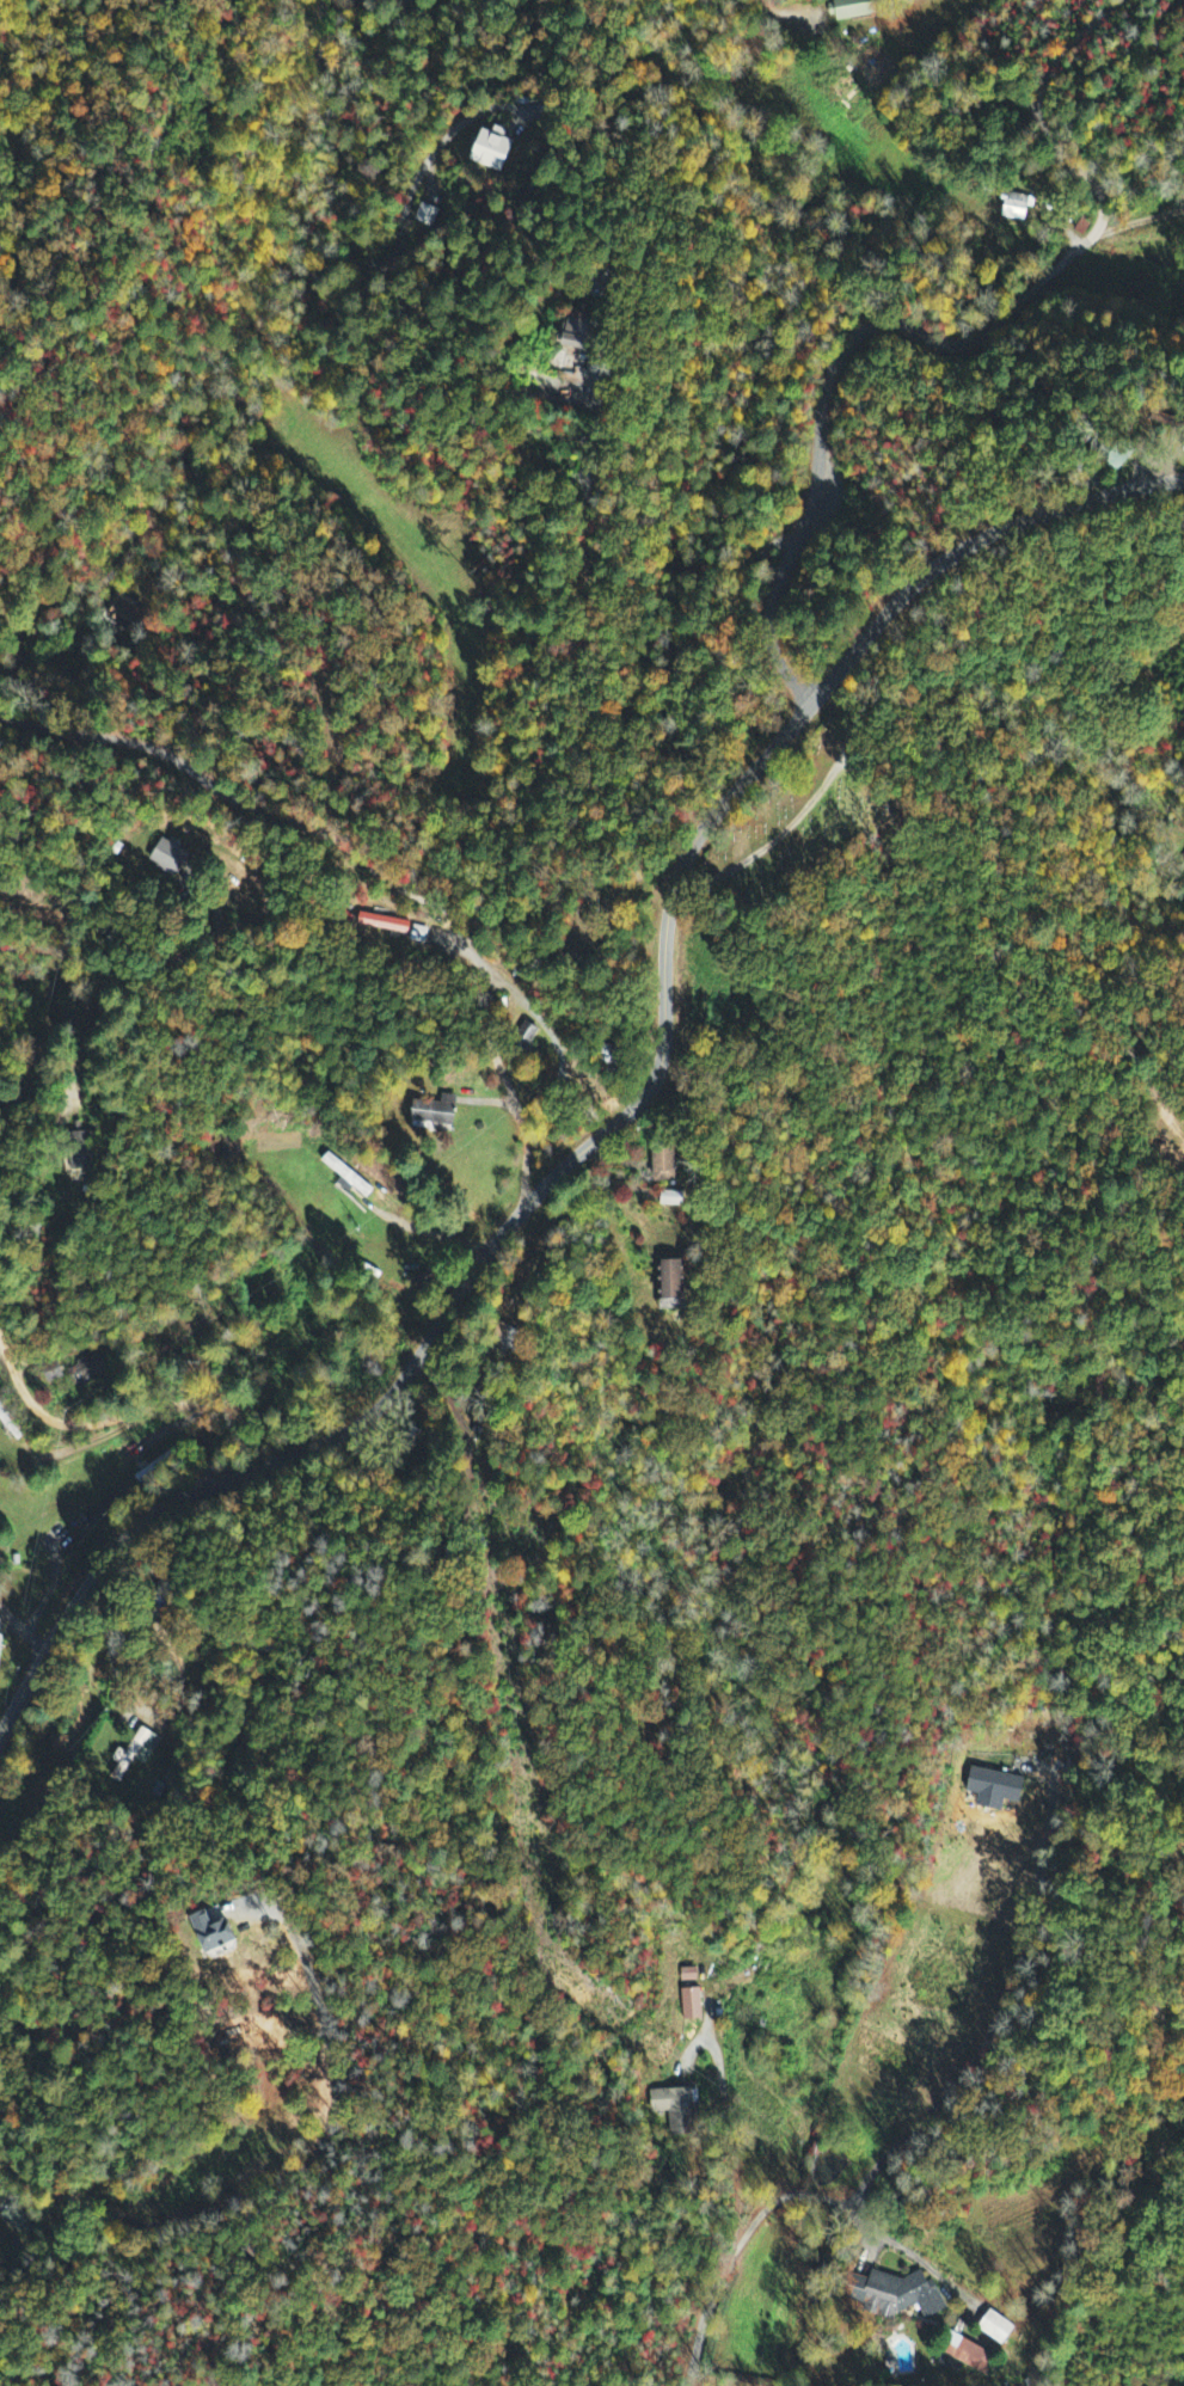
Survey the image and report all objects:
building: (853, 10)
road: (301, 137)
building: (492, 151)
building: (1016, 208)
building: (578, 333)
road: (938, 339)
road: (154, 487)
park: (793, 816)
road: (341, 842)
building: (171, 857)
building: (389, 925)
building: (421, 934)
road: (179, 961)
road: (90, 1000)
road: (498, 1063)
road: (630, 1110)
building: (436, 1112)
building: (80, 1137)
building: (79, 1160)
building: (665, 1164)
building: (348, 1176)
building: (671, 1200)
building: (673, 1286)
building: (85, 1369)
building: (53, 1374)
road: (134, 1412)
building: (96, 1520)
road: (23, 1626)
building: (0, 1644)
building: (135, 1754)
building: (994, 1789)
building: (215, 1933)
building: (688, 1975)
building: (692, 2005)
building: (671, 2102)
road: (283, 2176)
road: (839, 2203)
building: (16, 2216)
road: (734, 2219)
building: (904, 2296)
building: (995, 2329)
building: (969, 2355)

